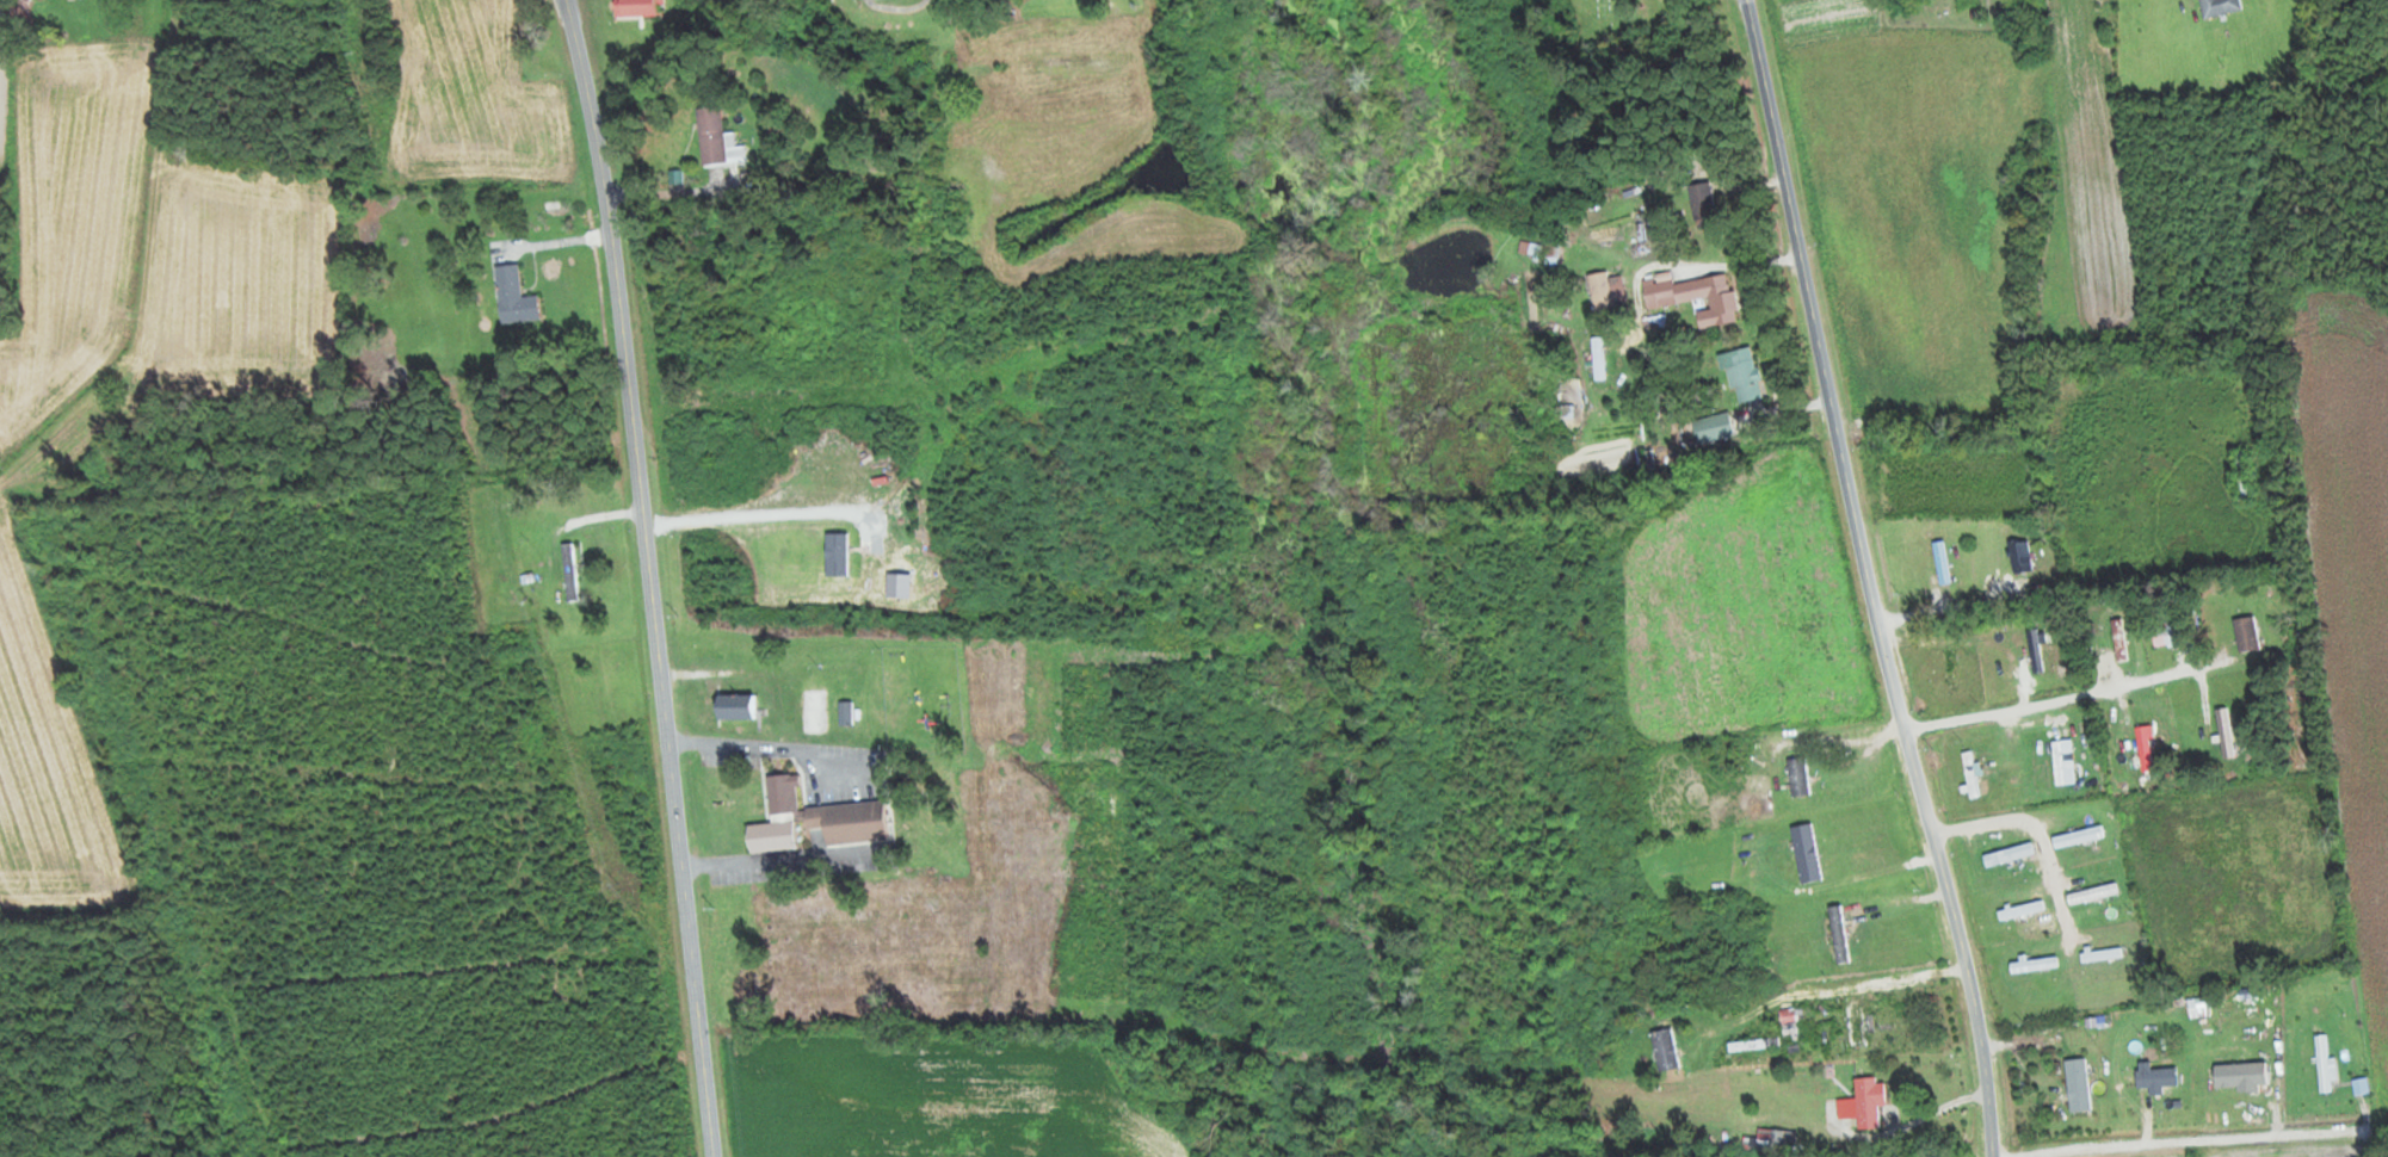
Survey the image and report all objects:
building: (809, 0)
building: (638, 7)
building: (2219, 7)
building: (19, 10)
road: (1616, 48)
building: (715, 140)
building: (1702, 203)
road: (562, 242)
road: (2093, 252)
road: (147, 271)
building: (512, 296)
building: (1693, 296)
building: (383, 371)
building: (1741, 375)
building: (1701, 429)
building: (2019, 556)
building: (1940, 562)
building: (569, 571)
road: (652, 576)
road: (1869, 580)
building: (2246, 633)
building: (2118, 639)
building: (2035, 650)
building: (1949, 668)
building: (734, 706)
road: (2011, 710)
building: (844, 713)
road: (2116, 726)
building: (2225, 732)
building: (2145, 748)
building: (2057, 762)
building: (1969, 773)
building: (1798, 775)
road: (2133, 777)
building: (812, 818)
road: (2043, 836)
building: (2078, 836)
building: (1806, 853)
building: (2008, 854)
building: (2092, 892)
building: (2022, 909)
building: (1839, 933)
building: (2102, 954)
building: (2035, 964)
building: (1789, 1019)
building: (1855, 1022)
building: (1665, 1050)
building: (2240, 1070)
building: (2152, 1076)
building: (2078, 1084)
building: (1866, 1102)

